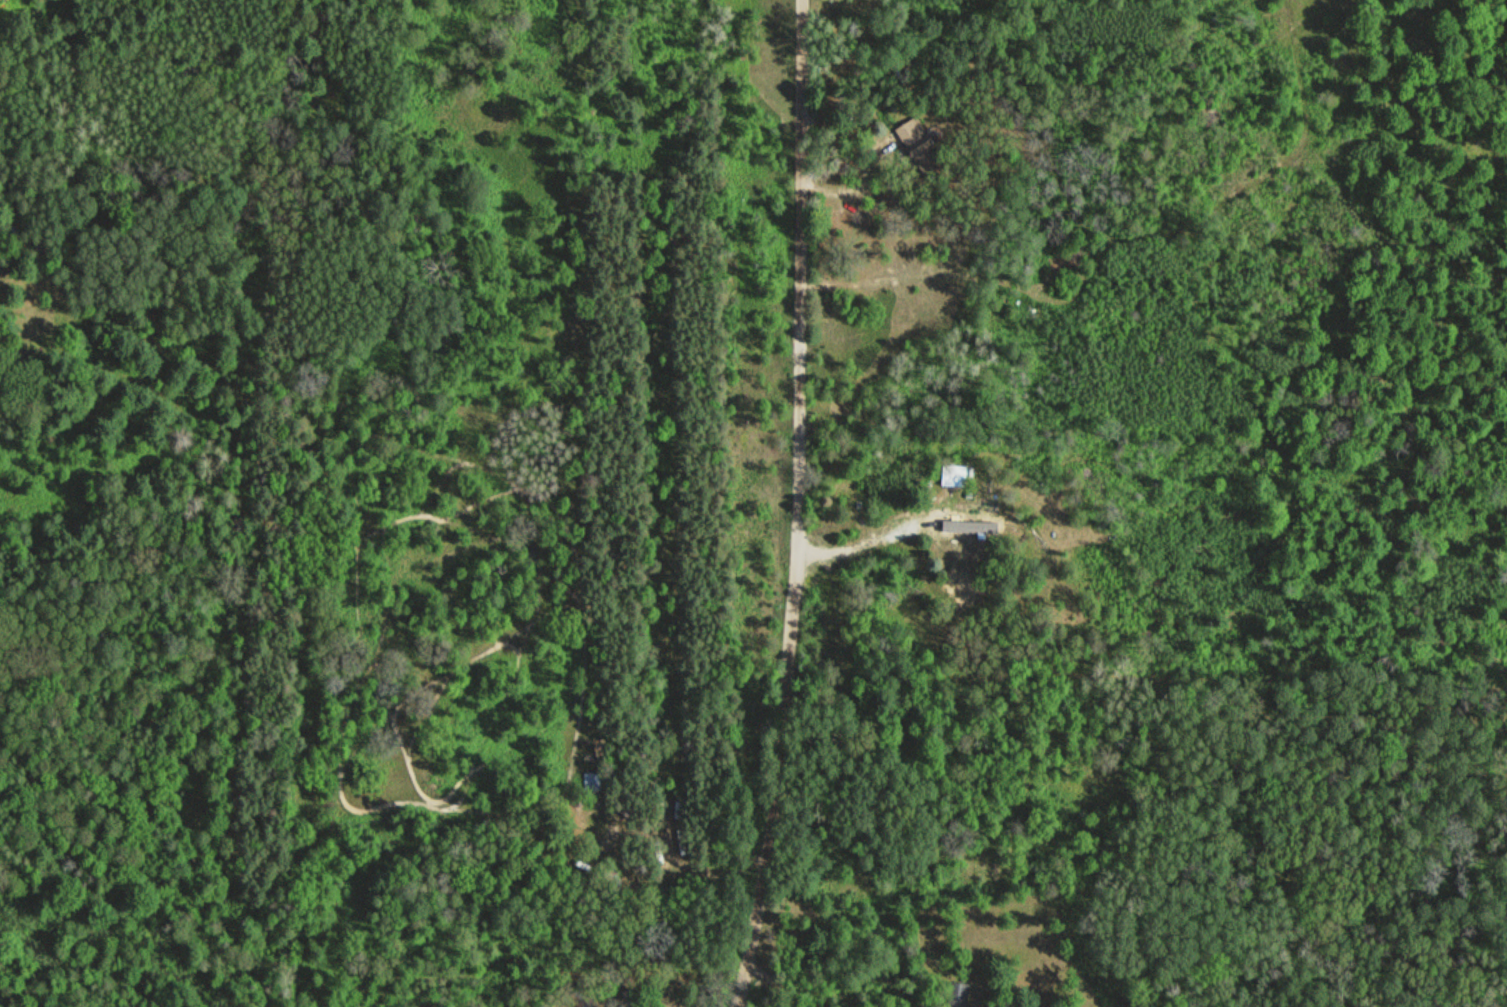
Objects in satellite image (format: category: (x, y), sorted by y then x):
building: (919, 145)
building: (43, 248)
building: (954, 474)
road: (802, 505)
building: (962, 526)
road: (875, 531)
building: (595, 781)
building: (606, 872)
building: (959, 995)
building: (584, 997)

